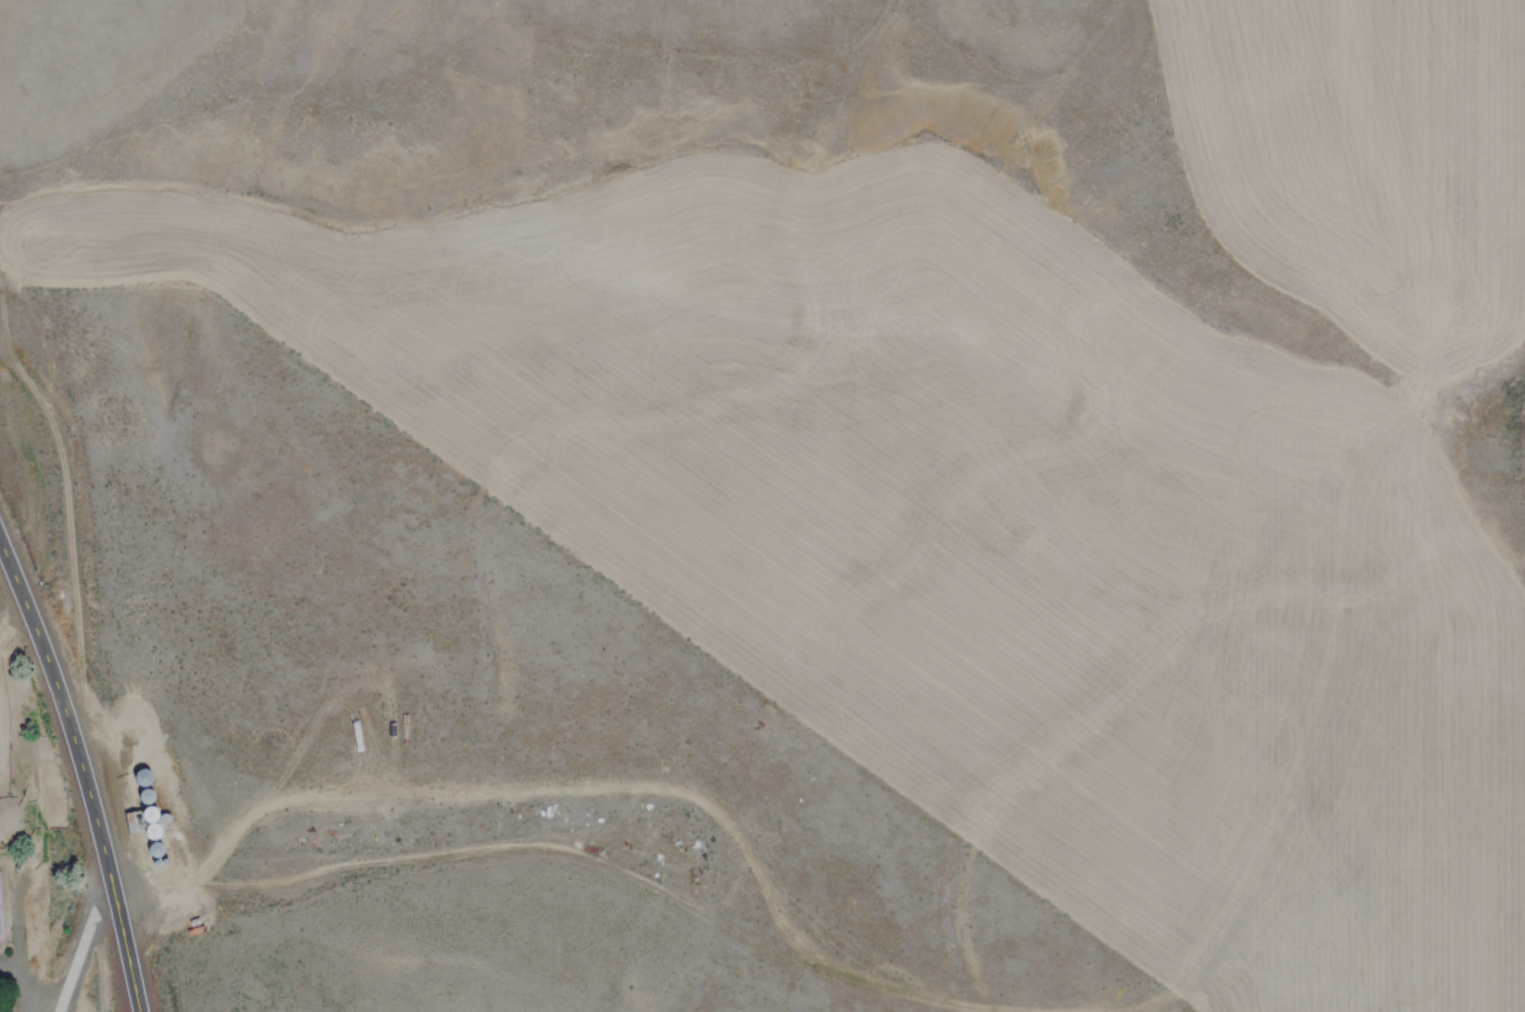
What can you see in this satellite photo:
road: (92, 794)
road: (94, 931)

